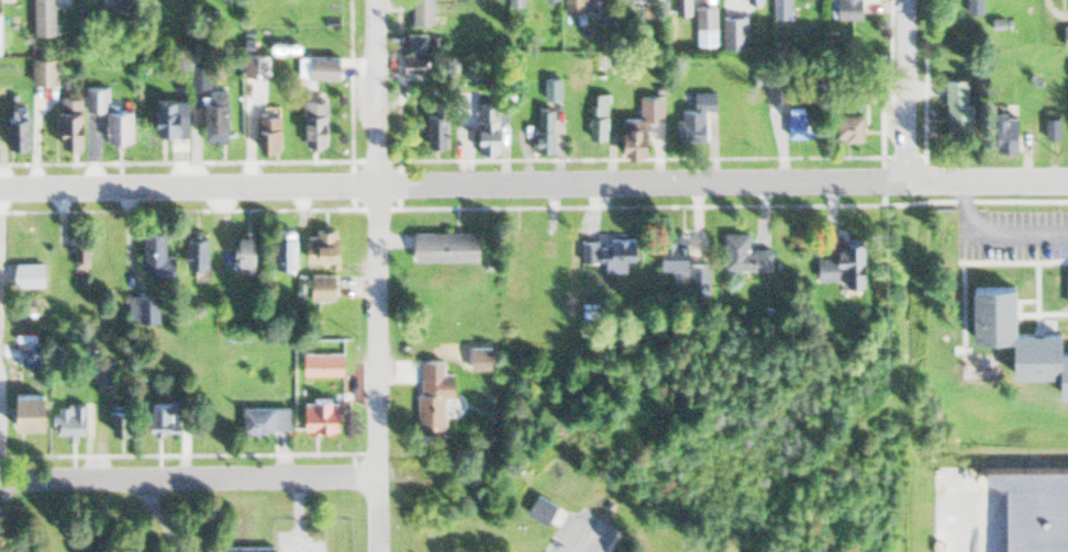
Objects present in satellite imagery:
building: (515, 1)
building: (108, 3)
building: (576, 3)
building: (681, 5)
building: (974, 5)
building: (781, 8)
building: (846, 8)
building: (422, 10)
building: (43, 15)
building: (705, 23)
building: (734, 29)
building: (1066, 34)
building: (415, 49)
building: (256, 61)
building: (319, 64)
building: (43, 67)
building: (779, 82)
building: (550, 87)
road: (905, 91)
building: (958, 105)
building: (110, 112)
building: (216, 112)
building: (171, 114)
building: (598, 115)
building: (696, 115)
building: (71, 117)
building: (314, 120)
building: (801, 121)
building: (490, 124)
building: (849, 125)
building: (1052, 125)
building: (436, 126)
building: (545, 126)
building: (641, 126)
building: (14, 127)
building: (269, 128)
building: (1006, 129)
road: (533, 184)
road: (992, 236)
road: (375, 237)
building: (323, 244)
building: (446, 244)
building: (530, 244)
building: (285, 247)
building: (589, 248)
building: (79, 249)
building: (197, 249)
building: (244, 249)
building: (743, 251)
building: (618, 252)
building: (157, 254)
building: (682, 257)
building: (842, 262)
building: (29, 271)
building: (323, 284)
building: (1014, 316)
building: (25, 349)
building: (322, 362)
building: (102, 370)
building: (433, 397)
building: (31, 408)
building: (320, 413)
building: (164, 417)
building: (265, 417)
building: (69, 418)
building: (116, 418)
road: (187, 477)
building: (542, 508)
building: (1038, 509)
road: (375, 514)
road: (576, 533)
building: (246, 549)

